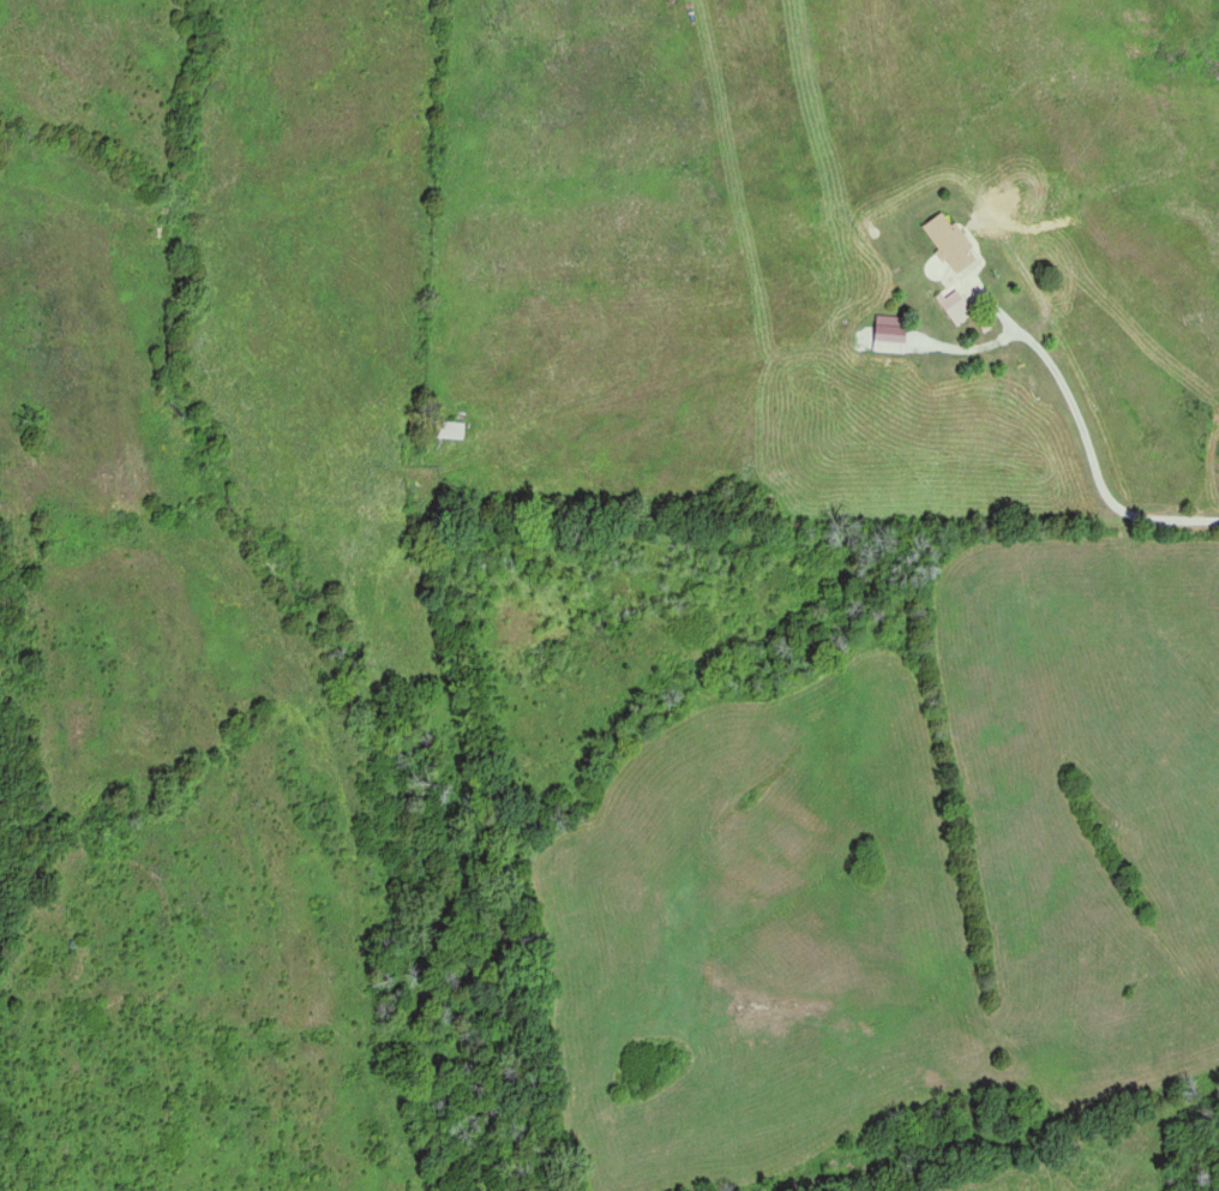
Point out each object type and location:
building: (950, 250)
building: (949, 304)
building: (445, 429)
road: (1080, 432)

